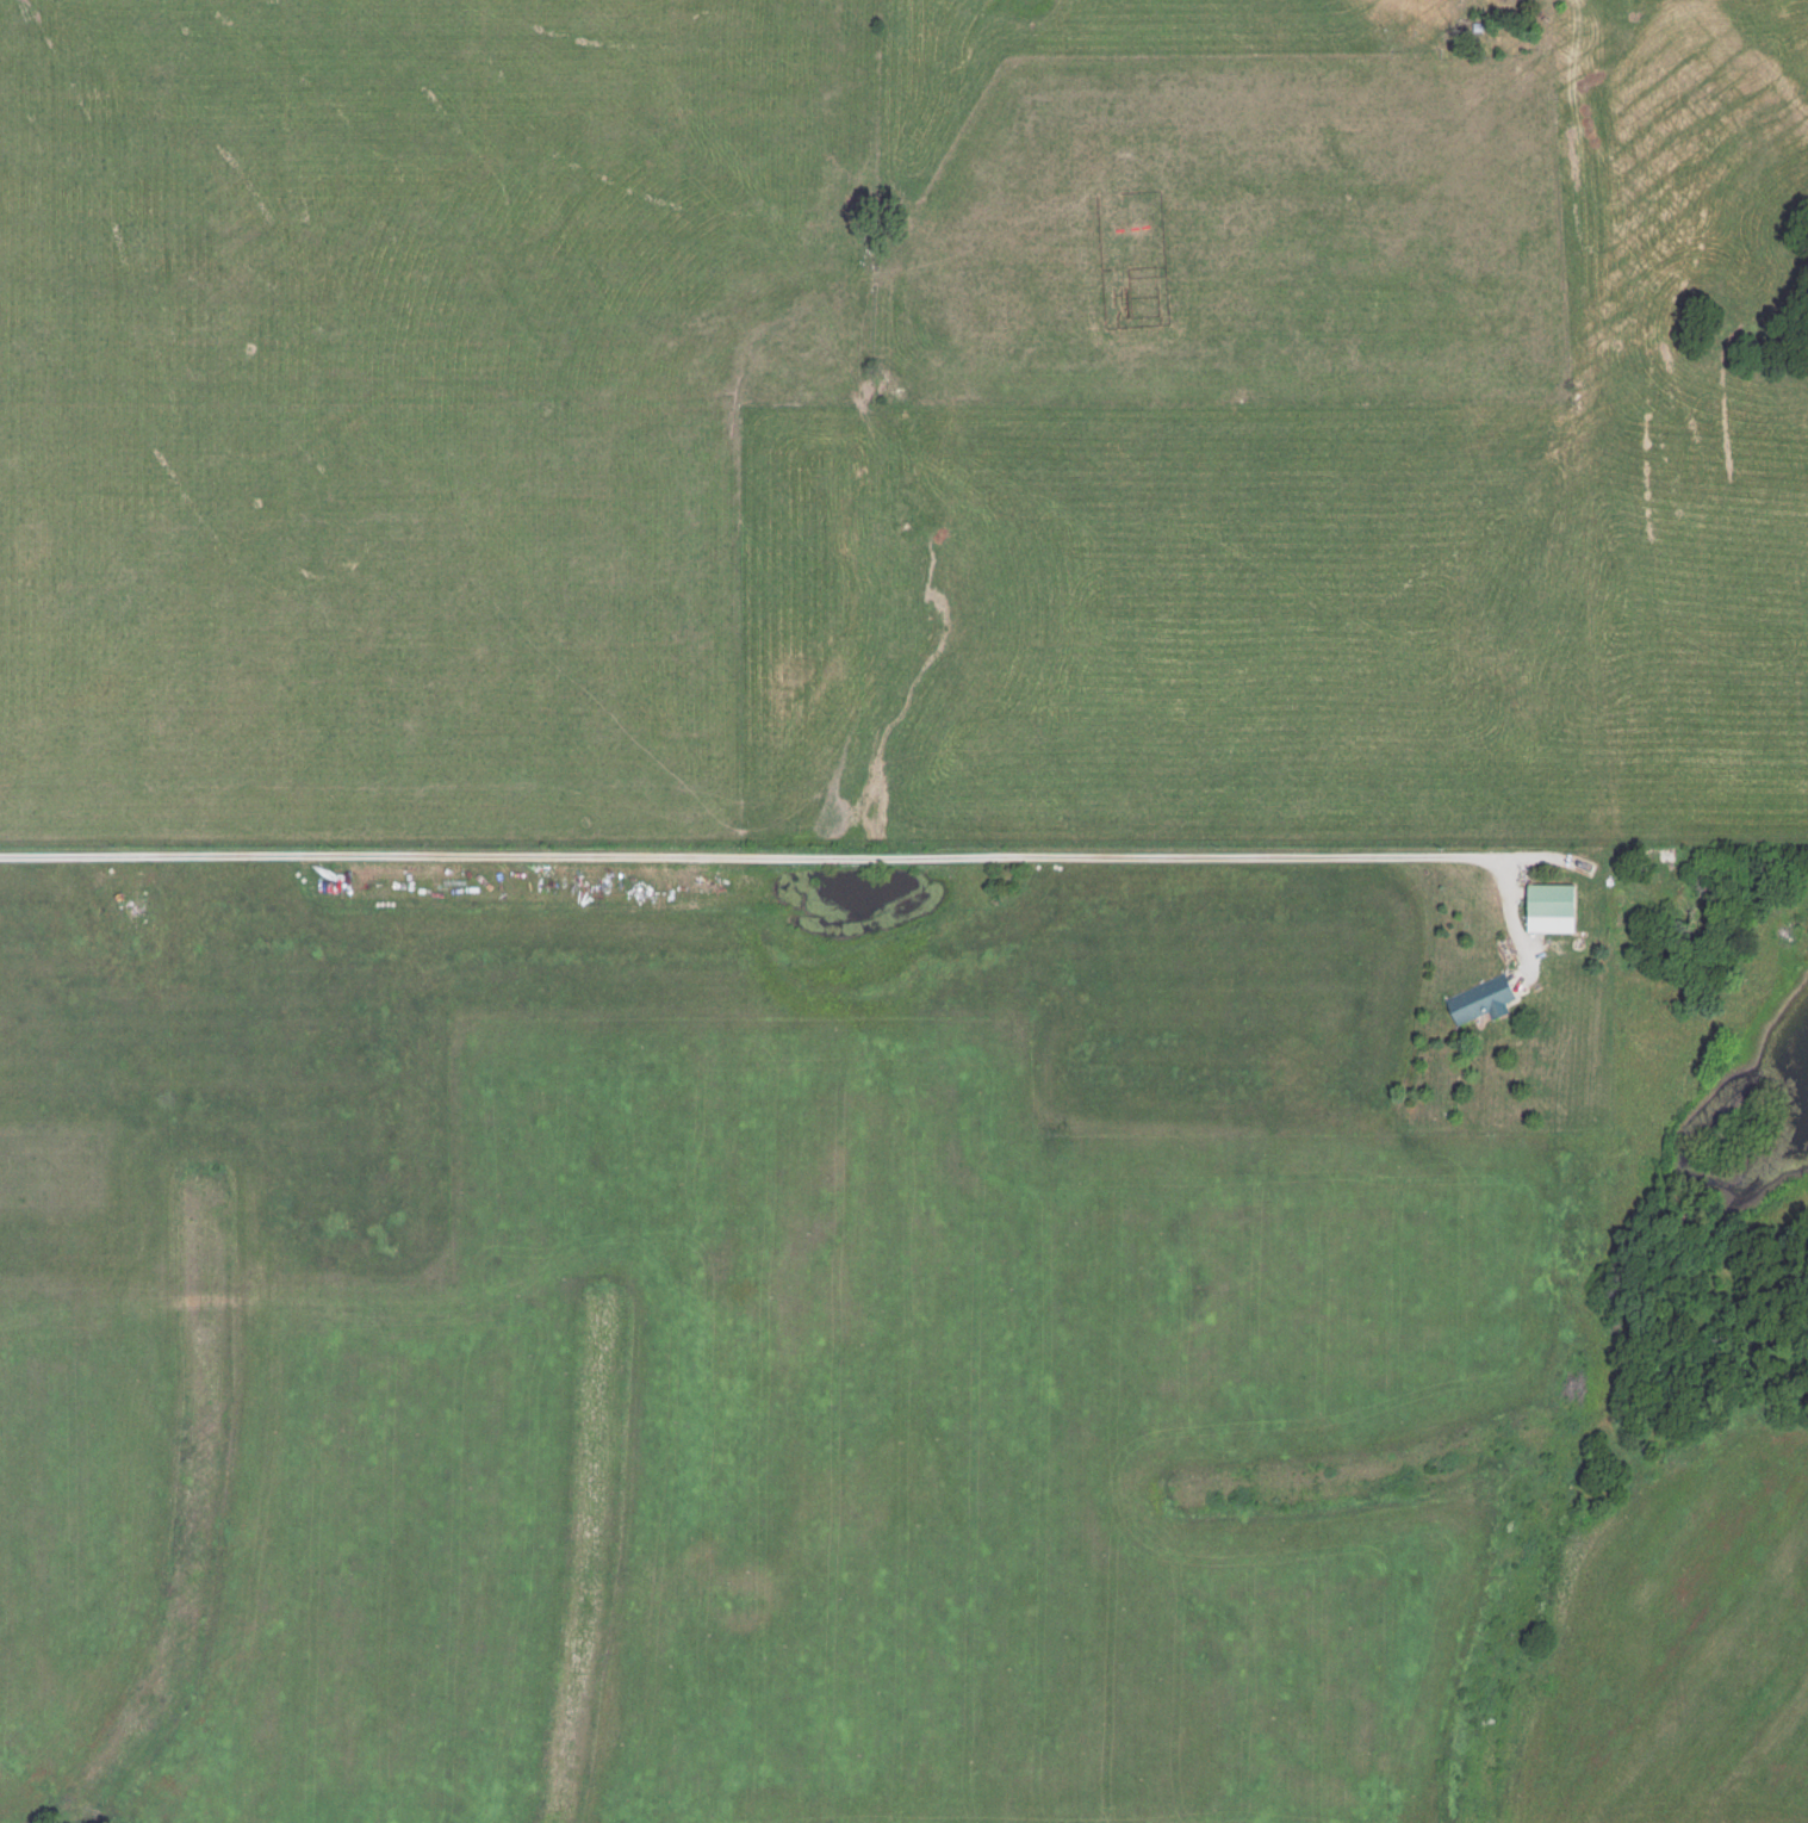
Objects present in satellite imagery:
building: (1498, 4)
building: (1428, 8)
road: (752, 858)
building: (1548, 909)
building: (1479, 1000)

